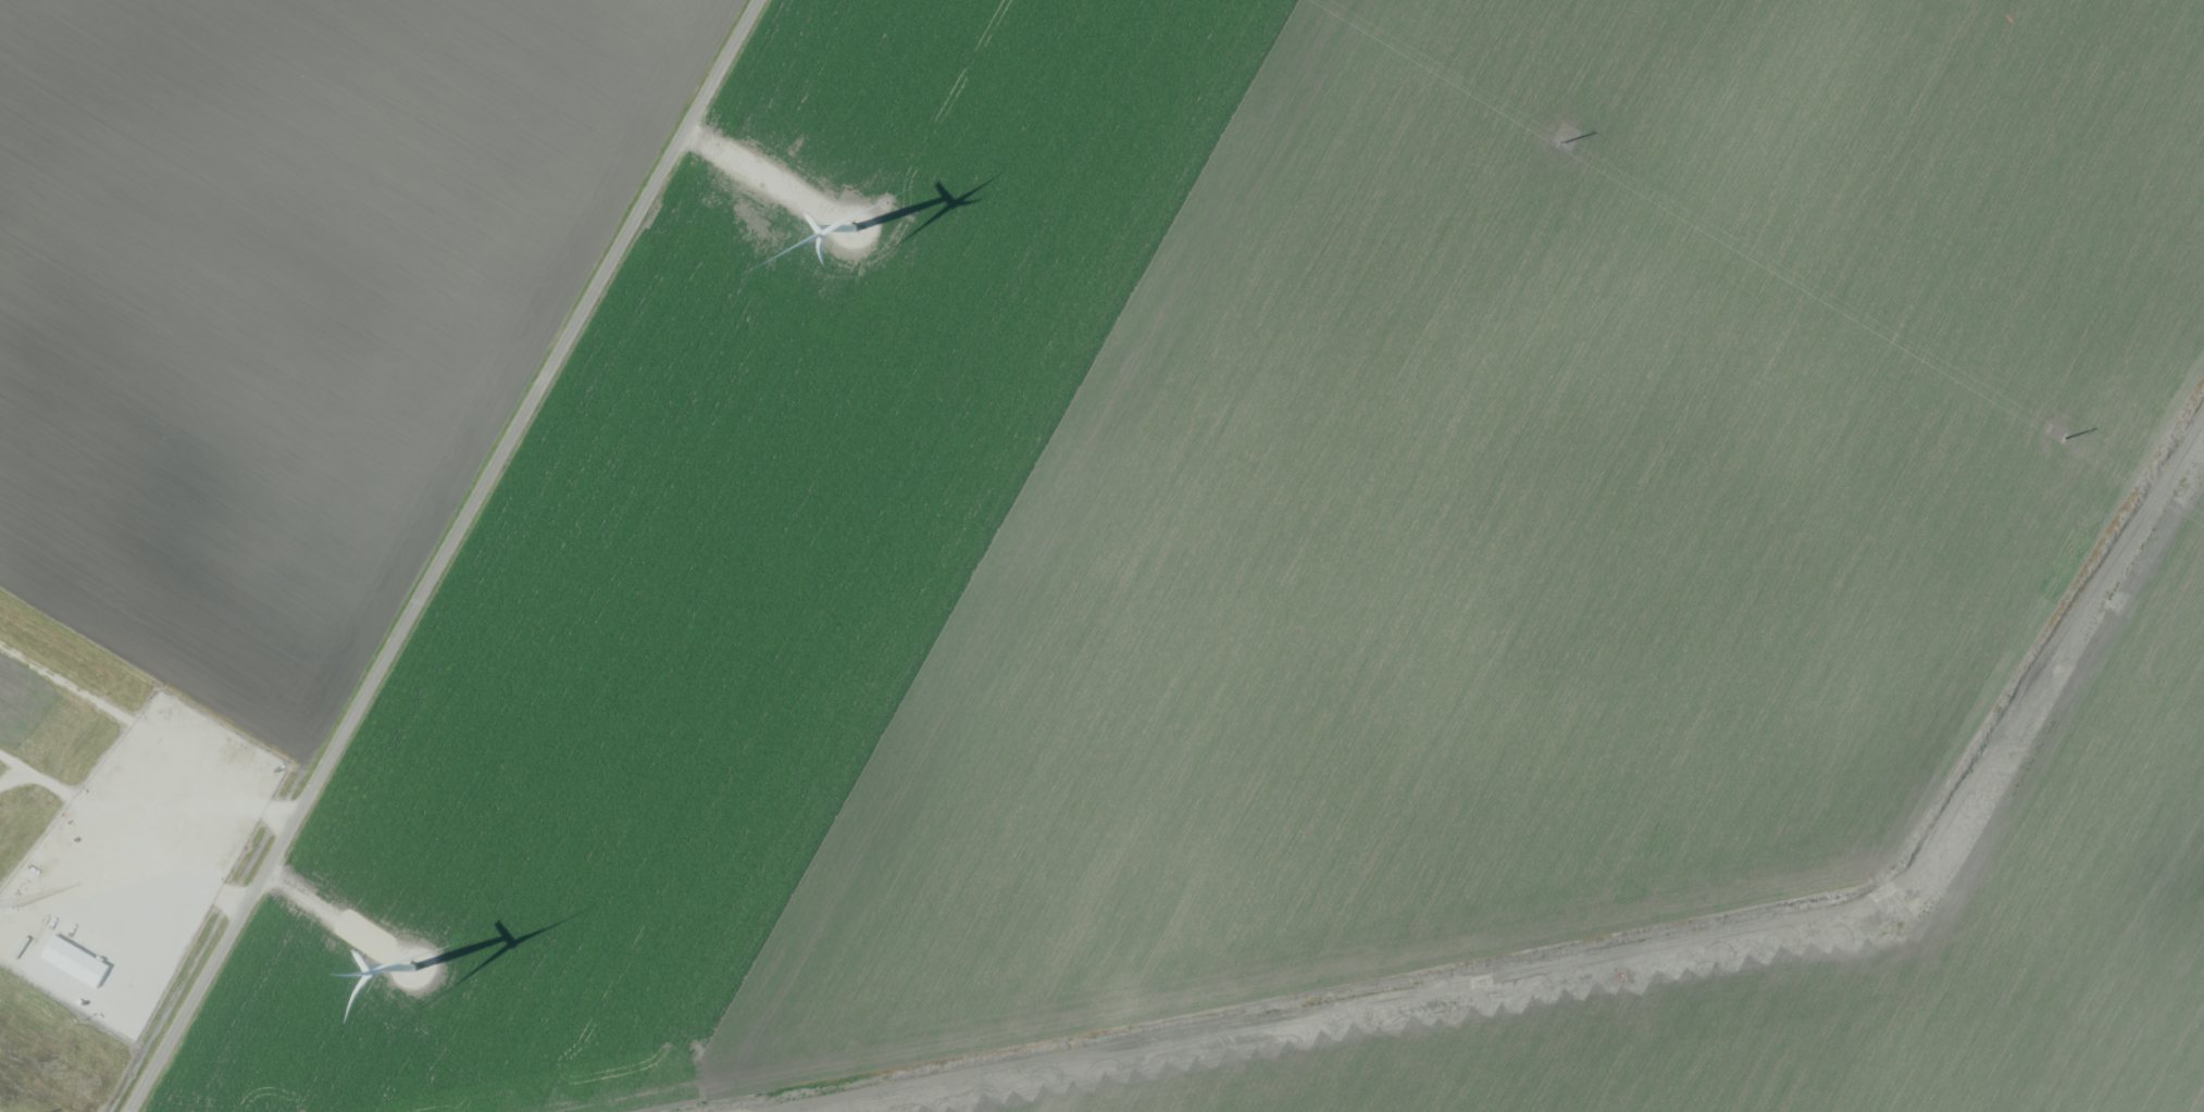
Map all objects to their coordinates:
power tower: (1562, 140)
road: (759, 176)
wind turbine: (857, 227)
power tower: (2064, 436)
road: (446, 555)
road: (328, 920)
wind turbine: (413, 975)

